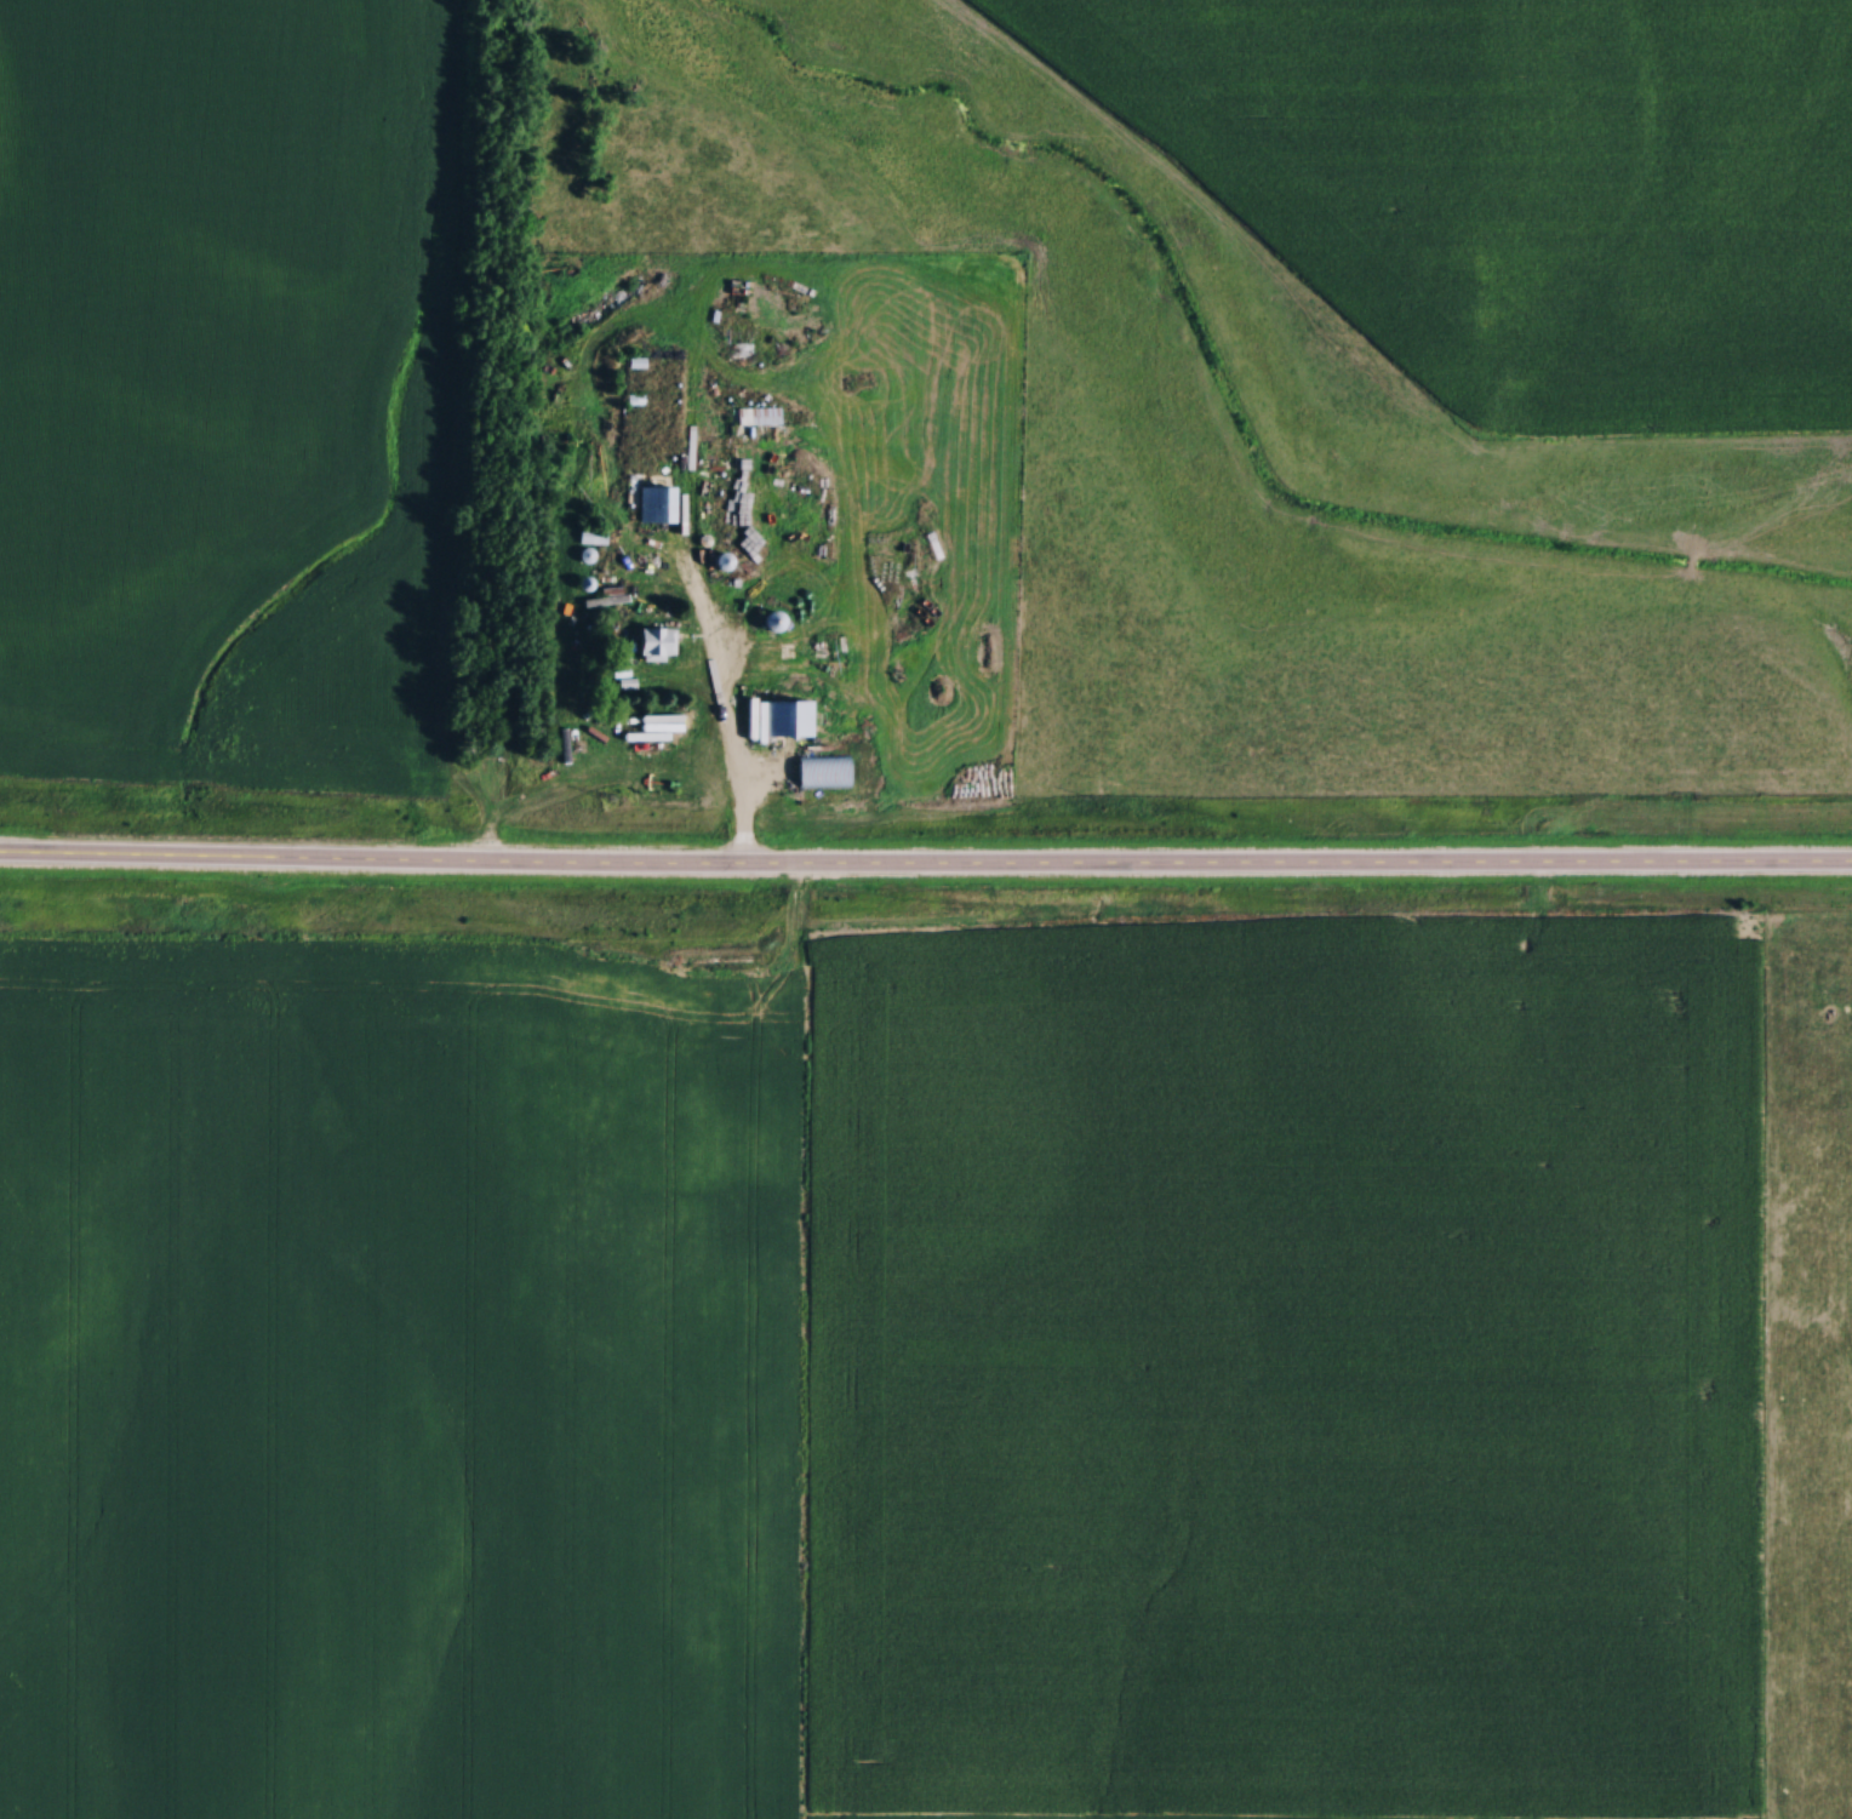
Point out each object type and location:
building: (754, 416)
building: (653, 505)
building: (589, 536)
building: (768, 622)
building: (653, 642)
building: (782, 719)
road: (739, 750)
building: (819, 771)
road: (925, 865)

